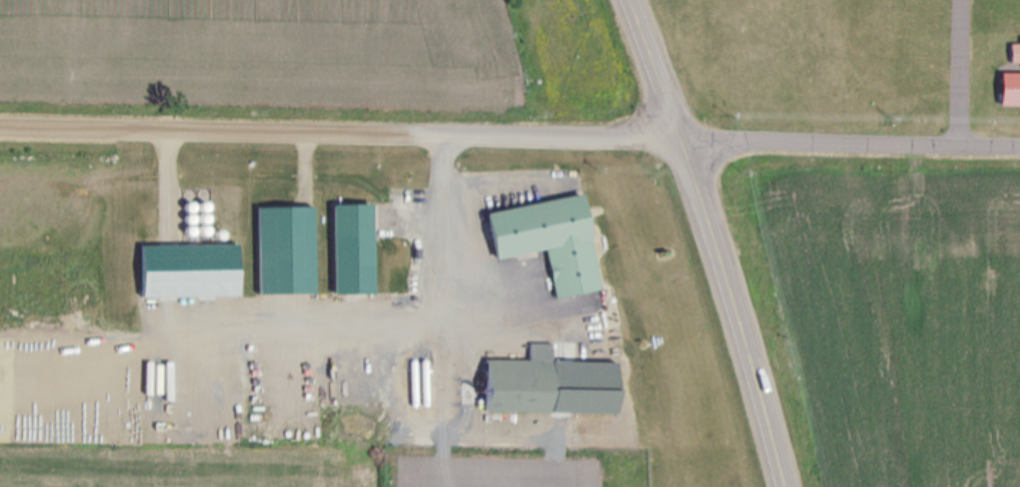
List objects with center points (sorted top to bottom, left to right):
crop: (318, 59)
airport: (844, 61)
road: (654, 68)
road: (340, 128)
road: (850, 140)
road: (736, 311)

